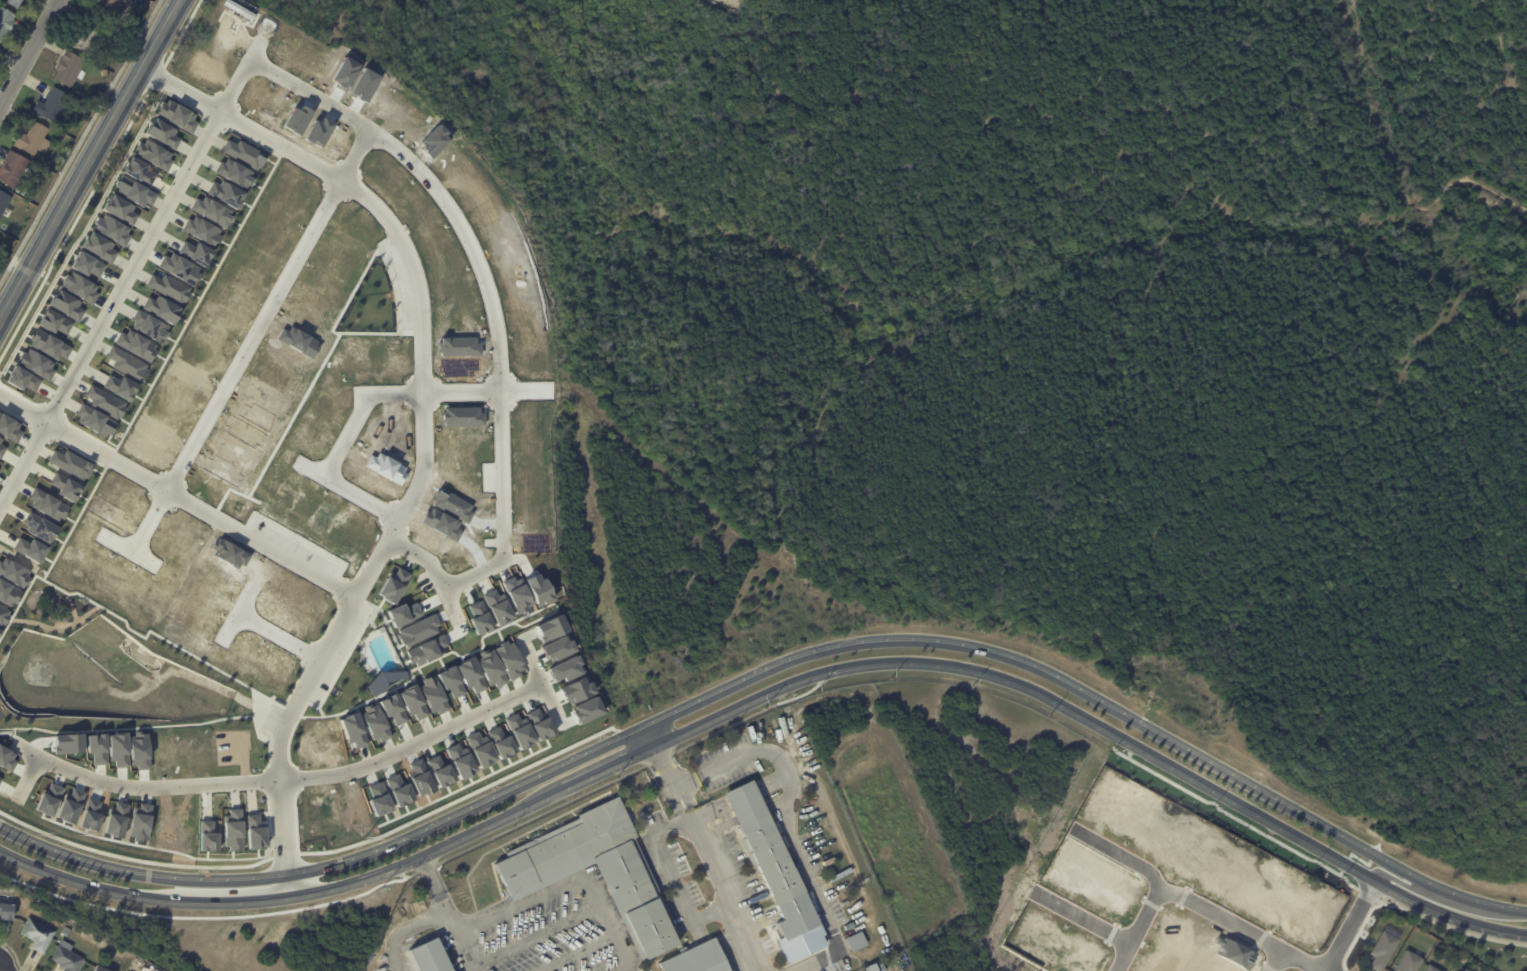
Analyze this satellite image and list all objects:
building: (14, 2)
building: (106, 6)
building: (240, 7)
building: (5, 21)
building: (90, 35)
road: (29, 52)
building: (69, 68)
building: (104, 72)
building: (346, 73)
building: (365, 84)
building: (55, 104)
building: (176, 115)
building: (298, 120)
road: (108, 126)
building: (318, 131)
building: (161, 132)
building: (33, 138)
building: (436, 139)
building: (243, 153)
building: (152, 154)
road: (276, 155)
building: (14, 170)
road: (1396, 170)
building: (138, 171)
building: (233, 172)
building: (465, 172)
building: (294, 181)
building: (133, 191)
building: (225, 193)
road: (346, 198)
building: (3, 201)
building: (119, 209)
building: (211, 211)
building: (111, 229)
building: (202, 231)
building: (498, 231)
building: (98, 246)
building: (195, 252)
road: (382, 252)
building: (508, 252)
building: (85, 264)
road: (133, 267)
building: (179, 268)
road: (24, 279)
parking lot: (401, 285)
building: (78, 286)
building: (168, 287)
road: (488, 287)
road: (197, 303)
building: (452, 303)
building: (65, 304)
building: (160, 308)
road: (5, 314)
road: (338, 318)
building: (53, 322)
building: (148, 325)
road: (252, 341)
building: (299, 341)
building: (48, 344)
building: (135, 344)
building: (459, 346)
building: (35, 363)
building: (126, 363)
building: (532, 365)
building: (459, 366)
building: (186, 371)
building: (21, 379)
building: (120, 386)
road: (413, 392)
building: (266, 395)
building: (104, 401)
building: (165, 410)
building: (533, 414)
road: (294, 415)
road: (423, 415)
road: (17, 416)
road: (63, 416)
building: (257, 416)
building: (462, 416)
building: (93, 420)
building: (9, 427)
building: (153, 430)
building: (244, 431)
building: (462, 437)
building: (142, 447)
building: (1, 448)
road: (112, 448)
building: (233, 451)
building: (69, 463)
road: (101, 464)
building: (387, 468)
building: (222, 470)
parking lot: (488, 476)
building: (63, 486)
building: (211, 486)
road: (348, 490)
road: (235, 491)
road: (178, 495)
building: (46, 503)
building: (451, 504)
road: (171, 507)
building: (107, 511)
road: (388, 514)
building: (323, 520)
road: (74, 523)
road: (485, 523)
road: (273, 524)
building: (440, 524)
building: (38, 526)
building: (430, 539)
building: (536, 542)
building: (28, 548)
road: (475, 549)
road: (128, 550)
building: (229, 553)
road: (369, 553)
building: (65, 559)
road: (459, 559)
road: (522, 559)
road: (408, 561)
road: (259, 568)
road: (435, 571)
building: (12, 572)
road: (504, 572)
building: (86, 574)
parking lot: (424, 581)
road: (483, 583)
building: (392, 585)
road: (343, 588)
building: (540, 590)
road: (469, 592)
building: (7, 593)
building: (518, 595)
road: (432, 601)
building: (498, 606)
road: (72, 607)
road: (364, 611)
road: (237, 613)
building: (402, 613)
building: (2, 615)
road: (370, 615)
road: (445, 615)
building: (481, 618)
road: (331, 622)
road: (502, 627)
building: (552, 627)
road: (58, 629)
building: (417, 630)
building: (176, 633)
road: (456, 633)
road: (525, 635)
road: (279, 636)
building: (558, 647)
building: (426, 650)
road: (309, 653)
parking lot: (340, 653)
building: (236, 657)
building: (508, 659)
road: (344, 663)
road: (771, 667)
building: (490, 668)
building: (568, 669)
building: (470, 674)
building: (392, 675)
road: (231, 676)
building: (388, 681)
building: (449, 681)
road: (541, 681)
building: (376, 684)
road: (396, 687)
building: (578, 689)
road: (771, 691)
building: (432, 695)
building: (412, 701)
building: (392, 708)
road: (267, 709)
building: (588, 709)
road: (322, 712)
parking lot: (271, 719)
road: (254, 722)
building: (374, 722)
road: (565, 722)
building: (538, 724)
road: (13, 729)
building: (353, 729)
building: (519, 730)
road: (620, 731)
road: (9, 734)
road: (650, 735)
building: (309, 741)
road: (40, 742)
building: (500, 742)
building: (68, 743)
building: (96, 748)
building: (118, 748)
building: (479, 749)
building: (139, 750)
road: (1128, 750)
building: (5, 758)
building: (460, 761)
road: (21, 770)
building: (439, 771)
road: (28, 776)
road: (121, 776)
road: (60, 777)
road: (143, 778)
building: (419, 778)
road: (282, 780)
road: (99, 782)
road: (80, 783)
road: (294, 789)
building: (398, 790)
road: (9, 791)
road: (123, 795)
road: (145, 796)
road: (233, 796)
road: (251, 798)
building: (47, 799)
building: (378, 799)
road: (457, 800)
road: (205, 802)
building: (69, 805)
building: (356, 807)
building: (332, 813)
building: (1129, 813)
building: (90, 815)
road: (1235, 818)
building: (115, 819)
road: (295, 820)
road: (786, 820)
building: (139, 822)
road: (268, 825)
building: (231, 830)
building: (254, 832)
building: (206, 836)
road: (1379, 845)
road: (1124, 853)
road: (1375, 853)
road: (284, 855)
road: (270, 858)
road: (707, 858)
building: (773, 858)
road: (1360, 860)
road: (1346, 863)
building: (1063, 864)
road: (1340, 872)
building: (534, 875)
road: (673, 880)
road: (291, 886)
road: (558, 887)
road: (1412, 887)
road: (231, 891)
road: (1368, 894)
road: (1379, 900)
building: (6, 910)
road: (1082, 917)
road: (430, 918)
road: (1350, 925)
road: (1452, 927)
road: (1243, 928)
building: (66, 931)
road: (1139, 932)
building: (37, 933)
road: (1358, 933)
road: (1263, 938)
building: (857, 941)
road: (1248, 941)
road: (463, 944)
building: (1385, 949)
building: (1235, 953)
building: (431, 956)
building: (67, 957)
building: (699, 958)
building: (139, 960)
road: (1278, 960)
building: (1410, 961)
building: (872, 967)
road: (1270, 967)
building: (100, 968)
building: (649, 968)
building: (1433, 968)
road: (0, 970)
building: (1457, 970)

